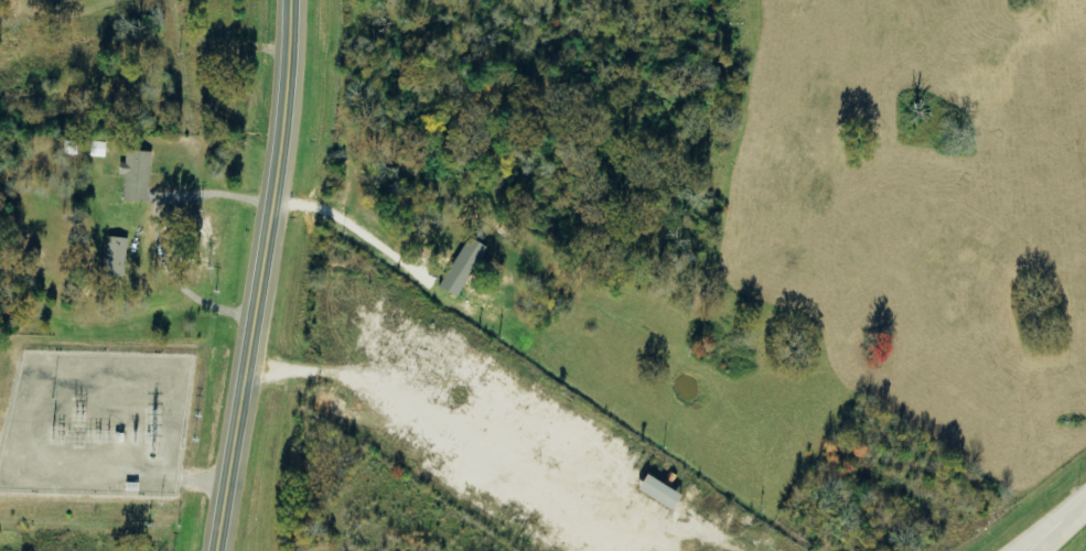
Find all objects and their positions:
road: (36, 10)
building: (71, 147)
building: (98, 150)
building: (136, 177)
building: (116, 257)
road: (258, 275)
power substation: (95, 426)
power tower: (68, 434)
building: (660, 494)
road: (1051, 523)
power tower: (146, 525)
power tower: (173, 526)
road: (1060, 527)

